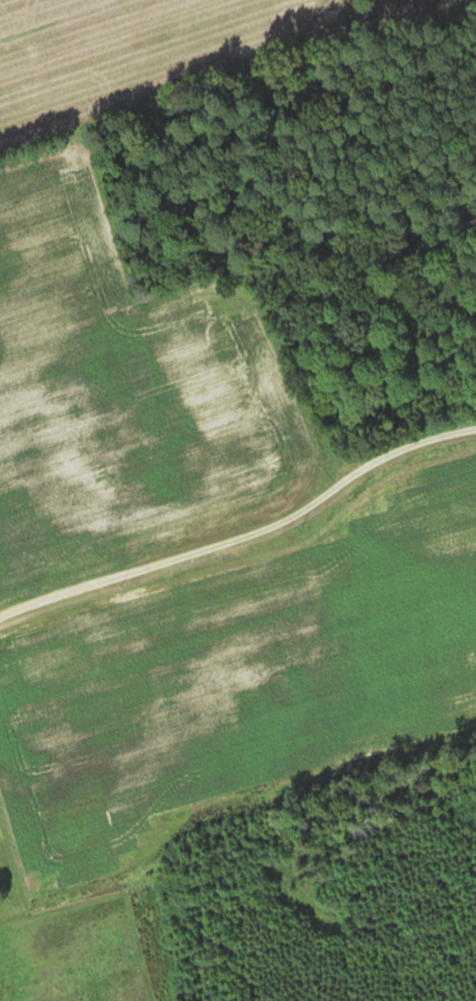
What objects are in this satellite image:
road: (89, 898)

